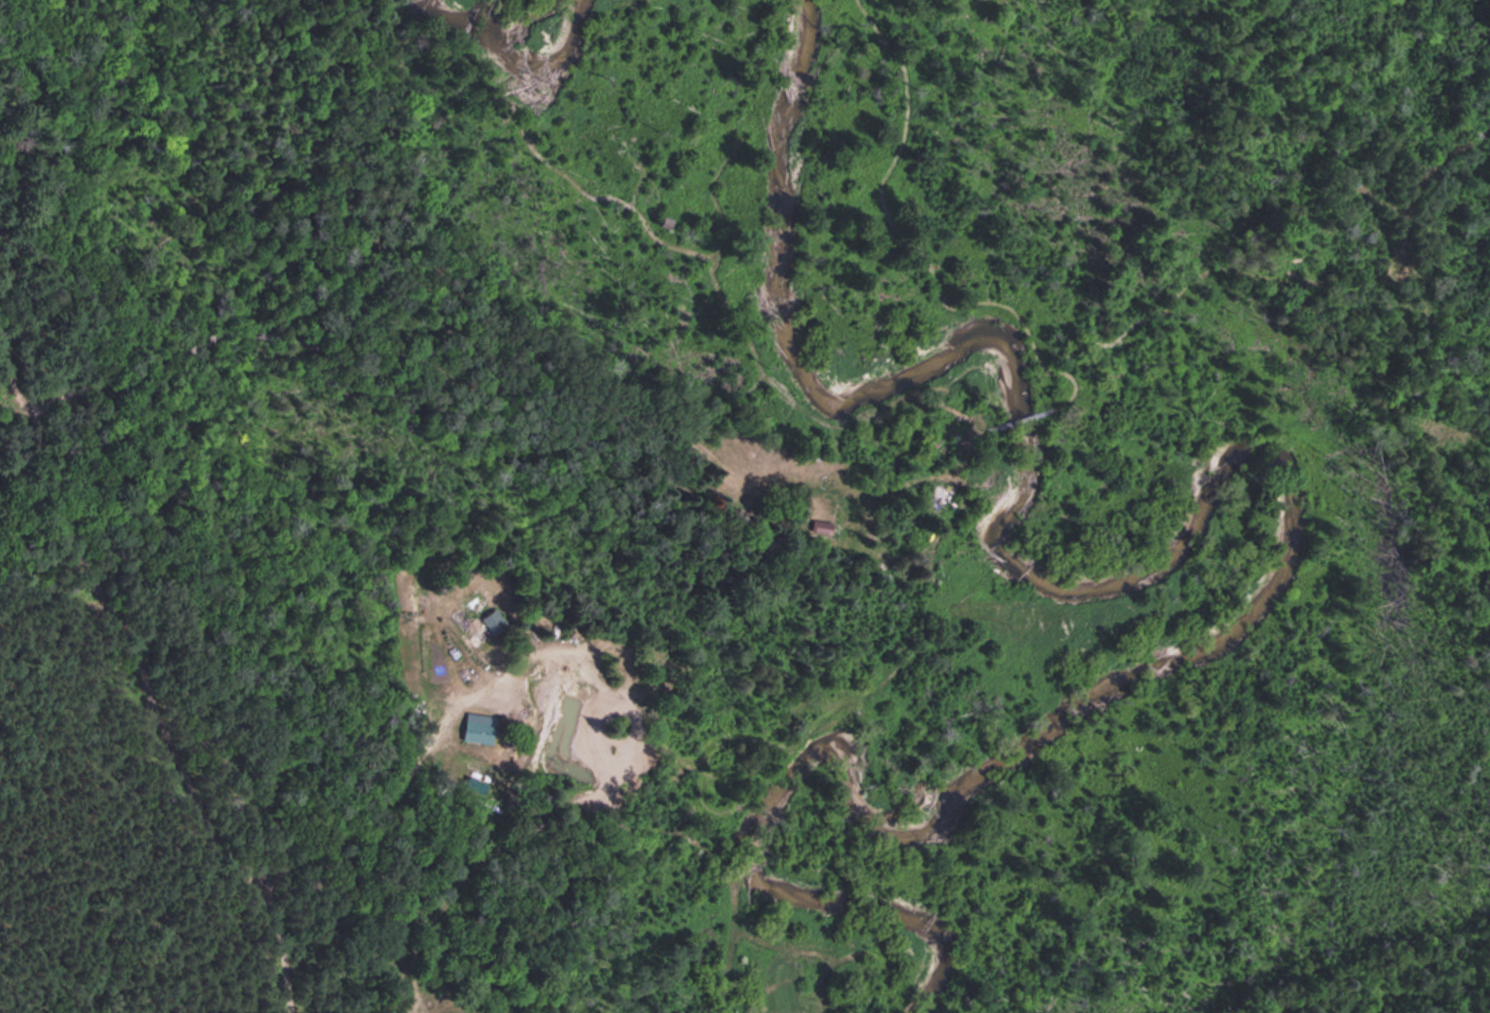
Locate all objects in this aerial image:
road: (334, 483)
river: (1272, 518)
building: (474, 613)
road: (139, 725)

